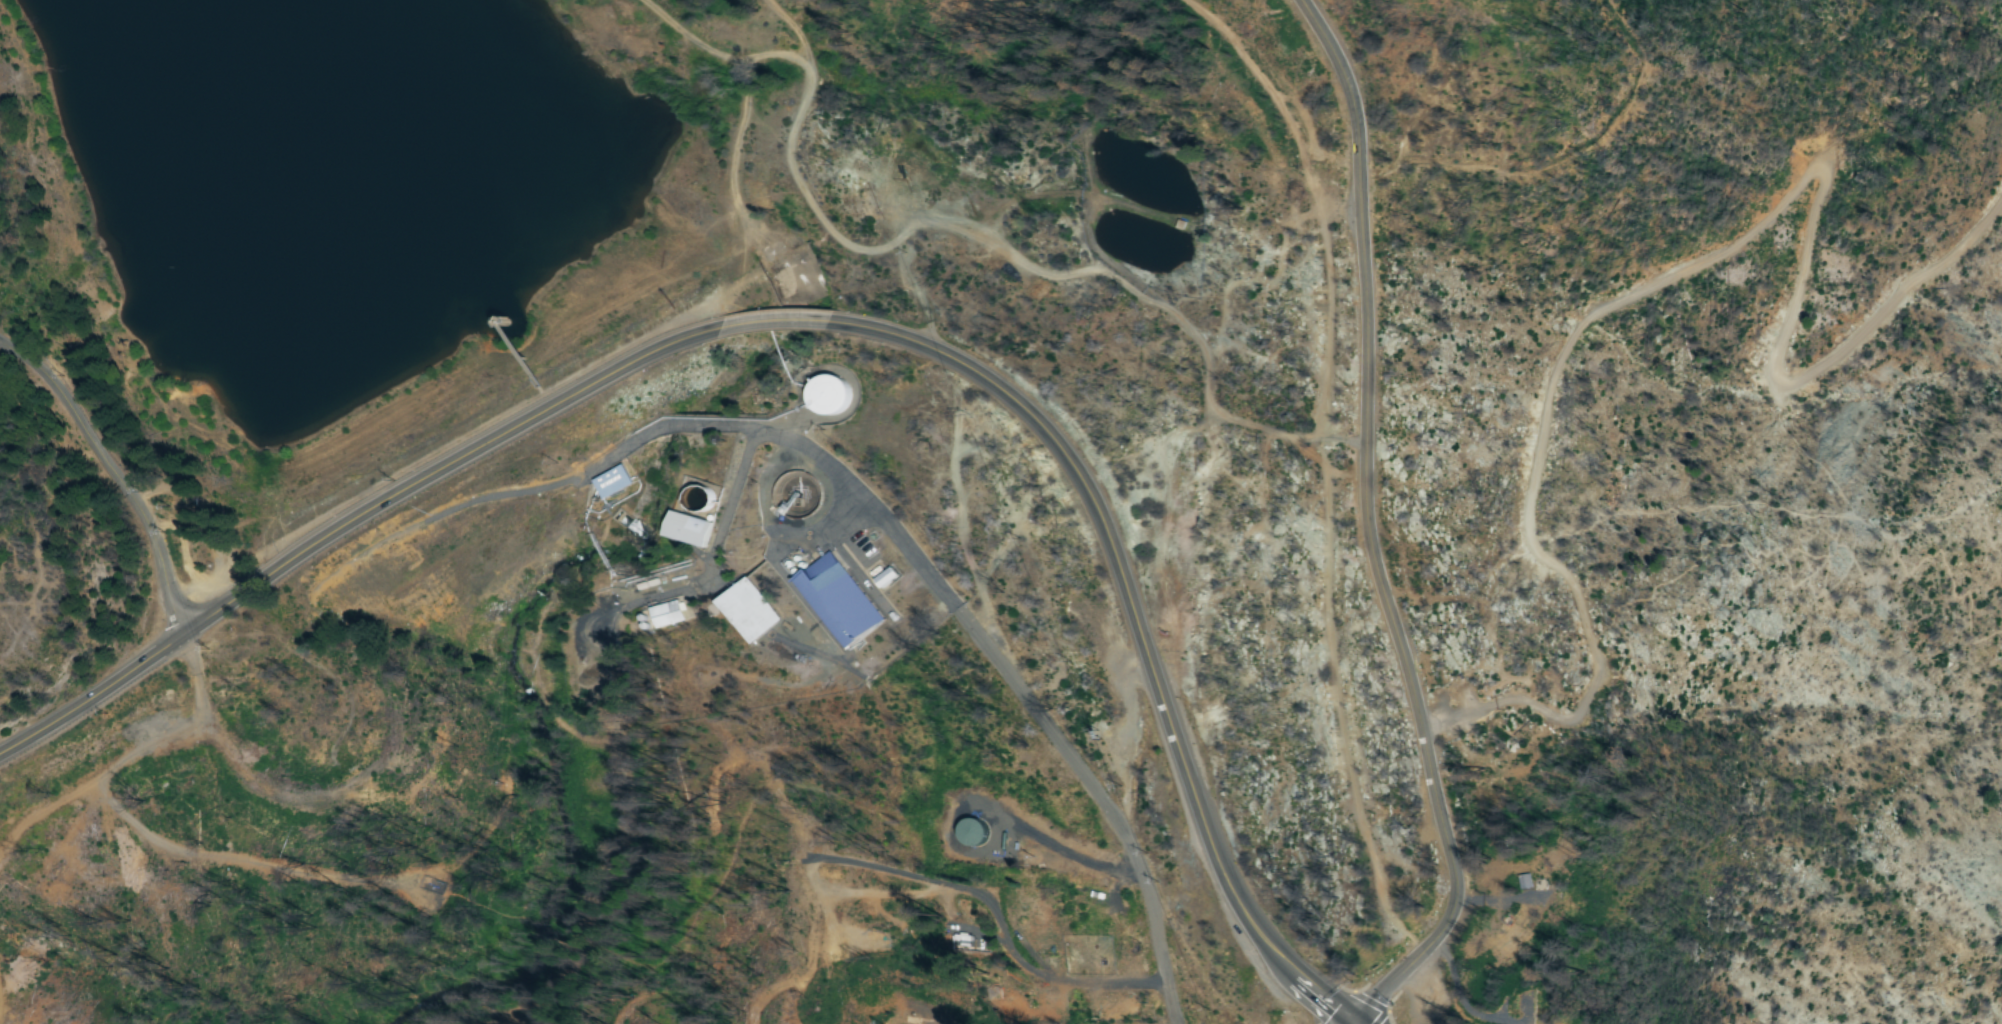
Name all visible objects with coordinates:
road: (1670, 270)
road: (779, 320)
building: (832, 397)
dam: (501, 417)
road: (1323, 440)
road: (113, 473)
building: (617, 484)
road: (1368, 505)
road: (342, 526)
building: (687, 529)
building: (888, 580)
building: (839, 601)
building: (667, 616)
road: (1142, 636)
road: (1102, 805)
road: (937, 925)
road: (1496, 927)
road: (1408, 934)
road: (1437, 982)
road: (1353, 1023)
road: (1354, 1023)

